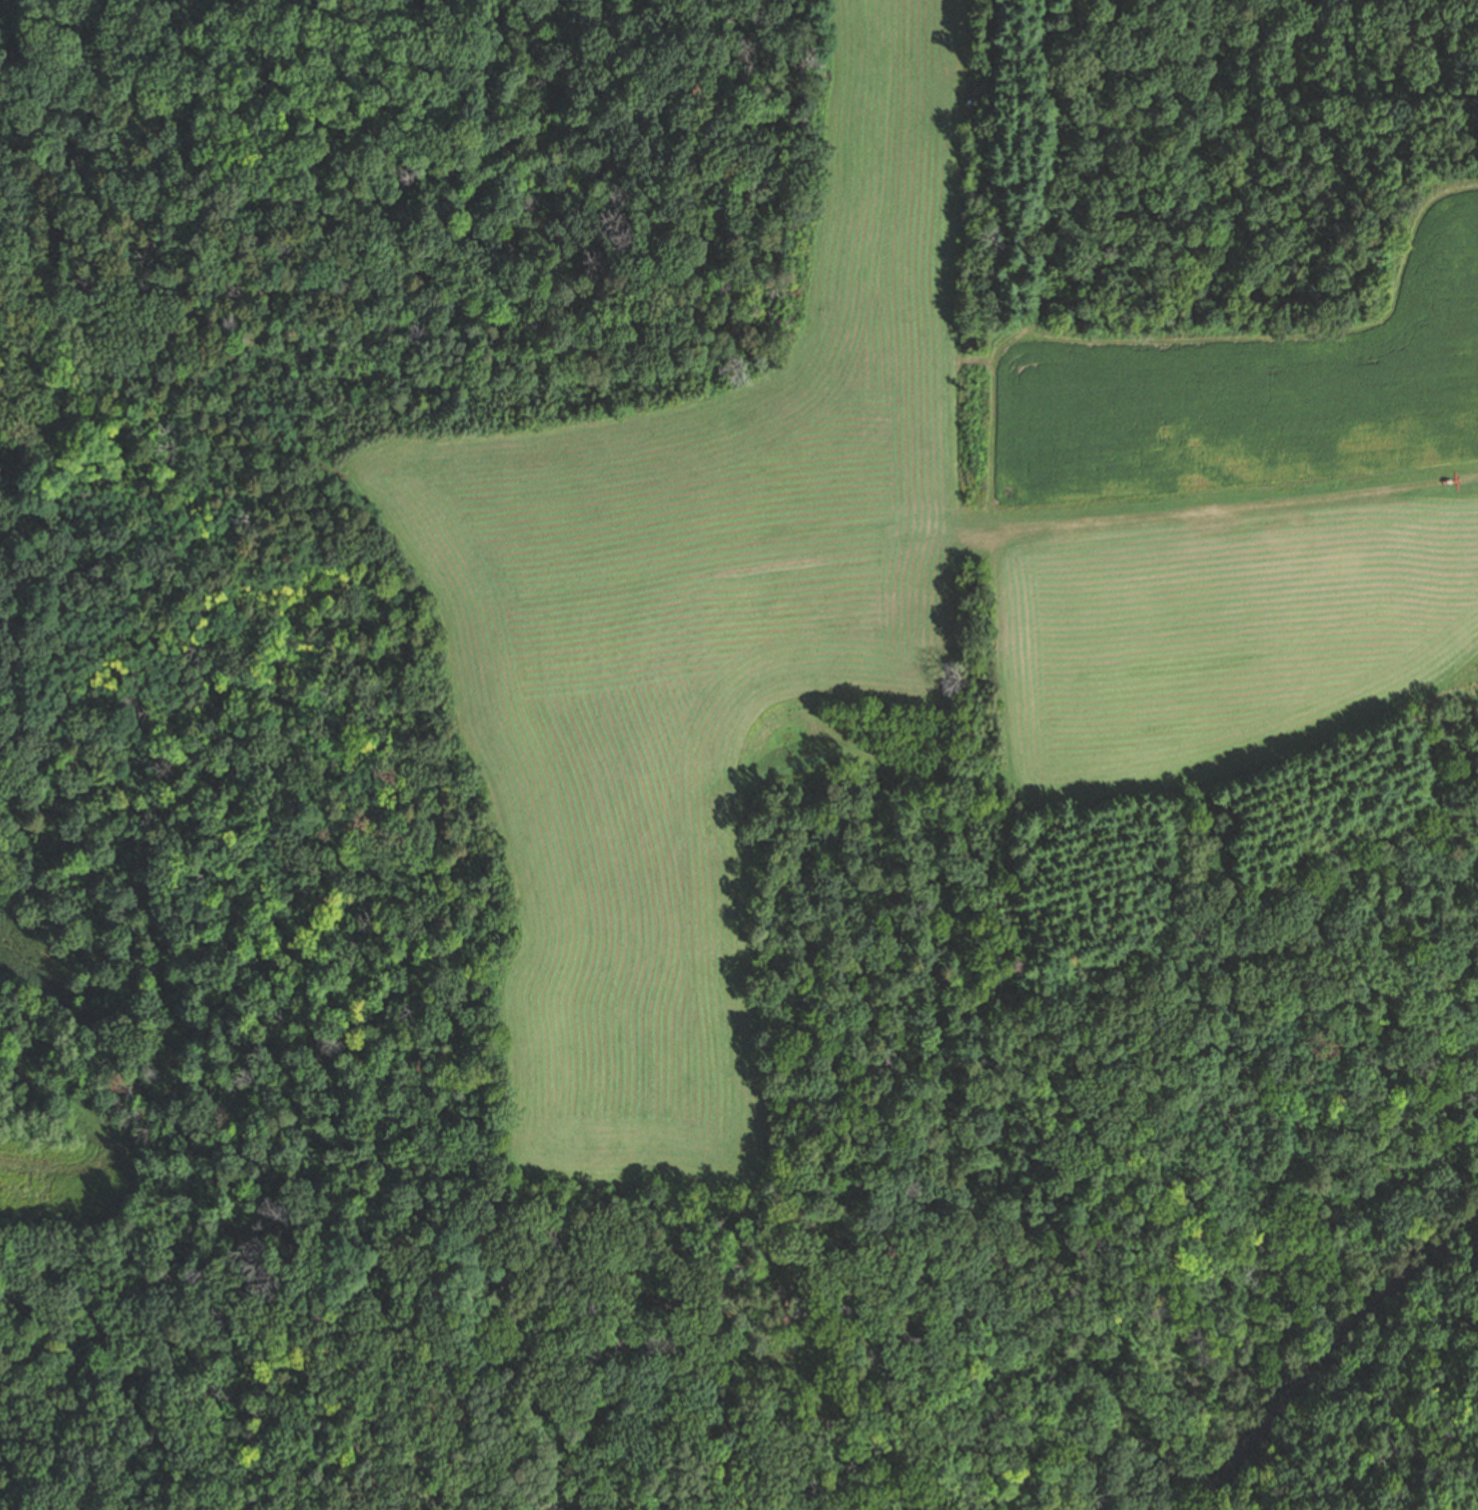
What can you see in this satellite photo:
road: (814, 1281)
road: (1328, 1353)
road: (394, 1360)
road: (724, 1378)
road: (655, 1383)
road: (487, 1413)

